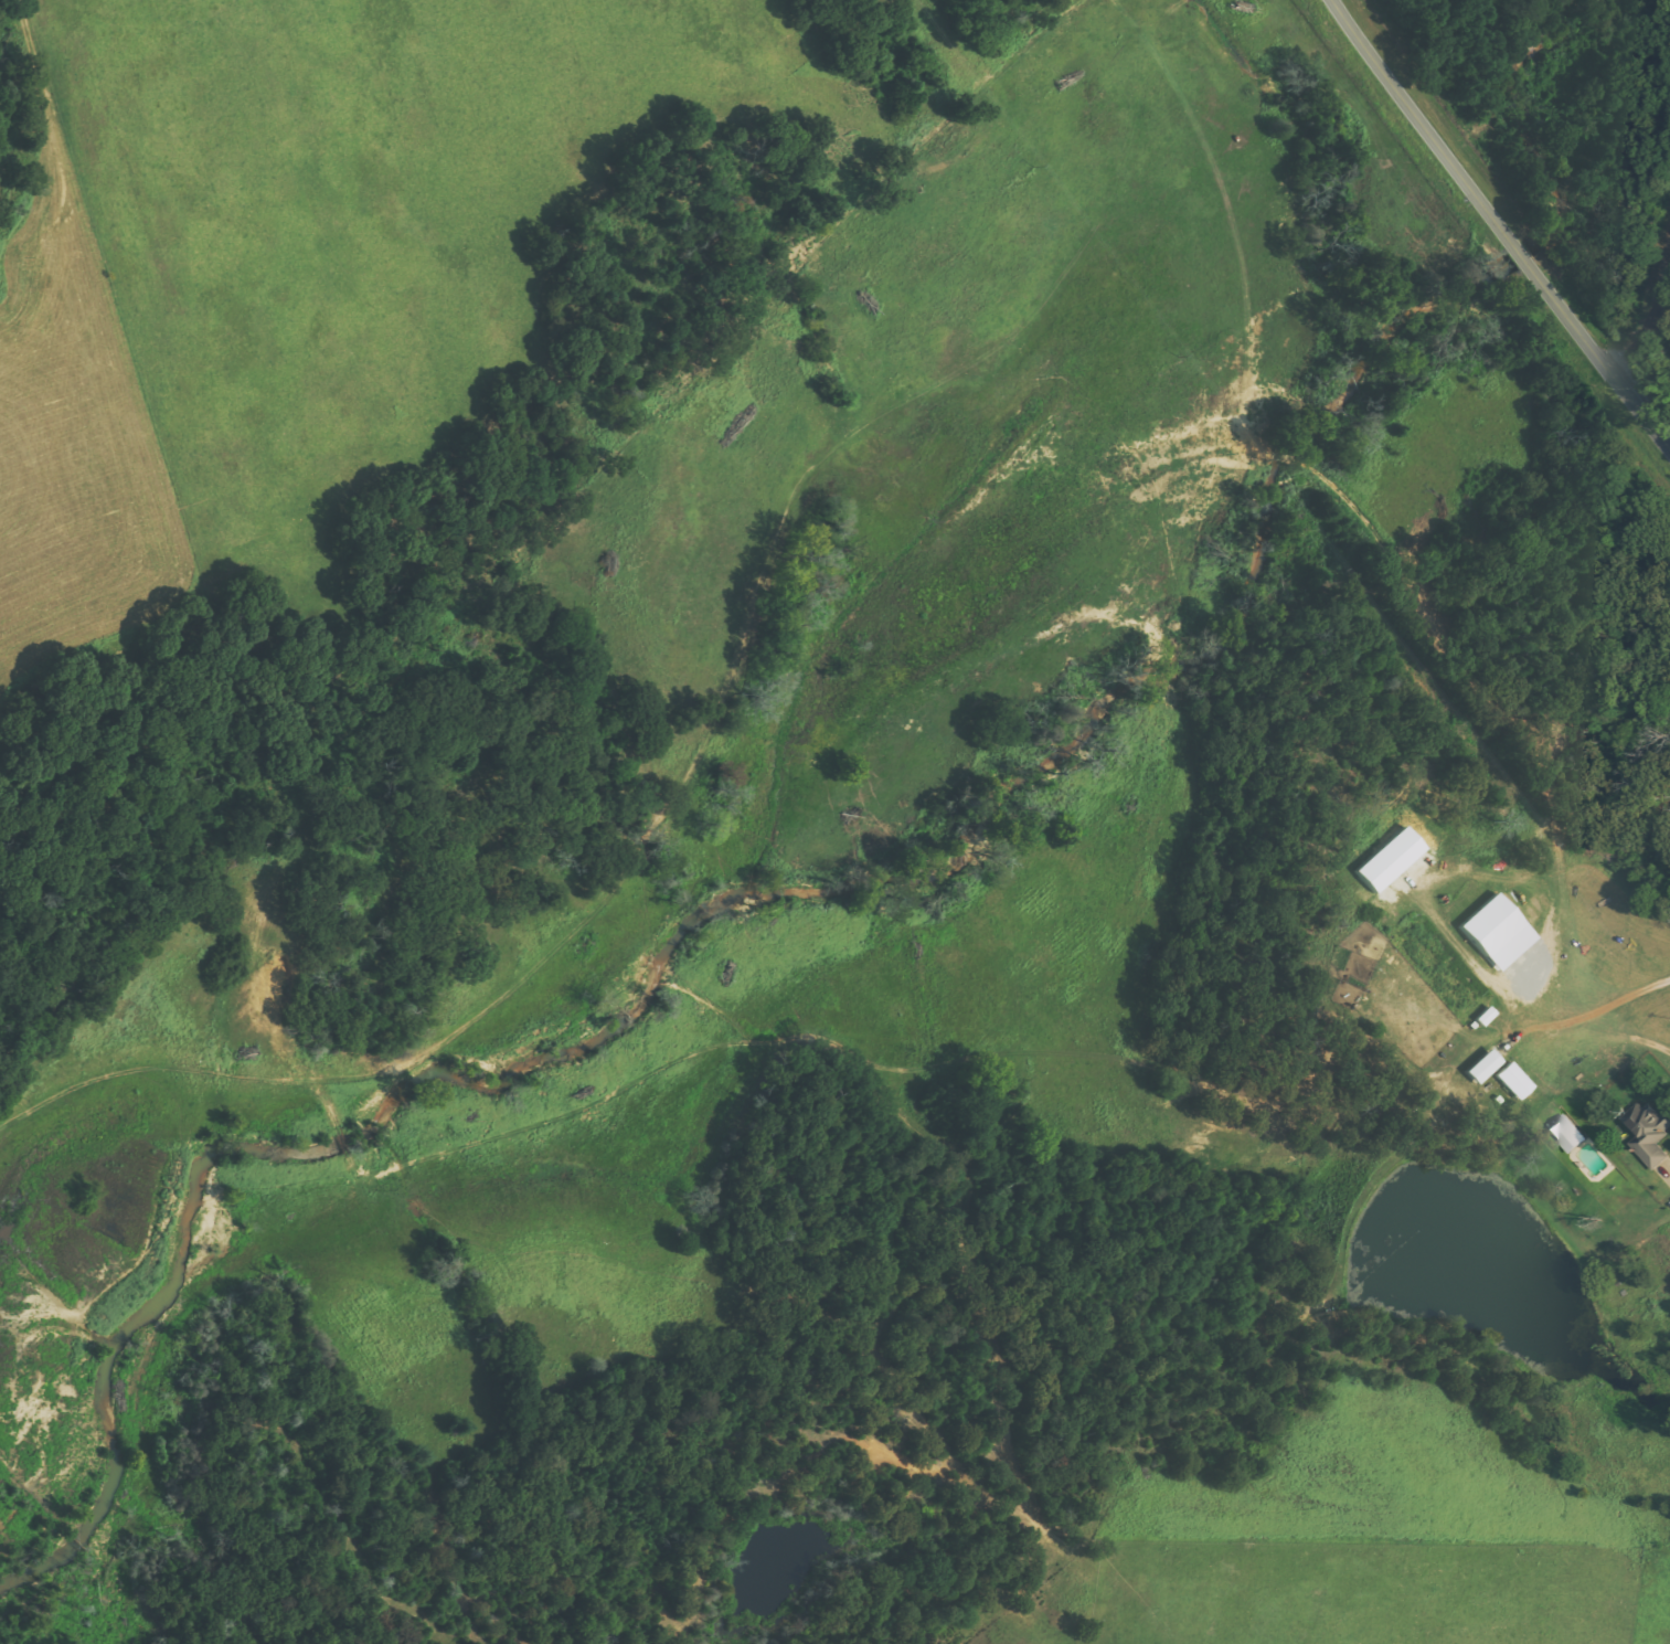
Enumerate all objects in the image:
road: (1503, 222)
road: (1650, 312)
building: (1499, 931)
building: (1485, 1067)
building: (1514, 1081)
building: (1649, 1133)
building: (1567, 1134)

